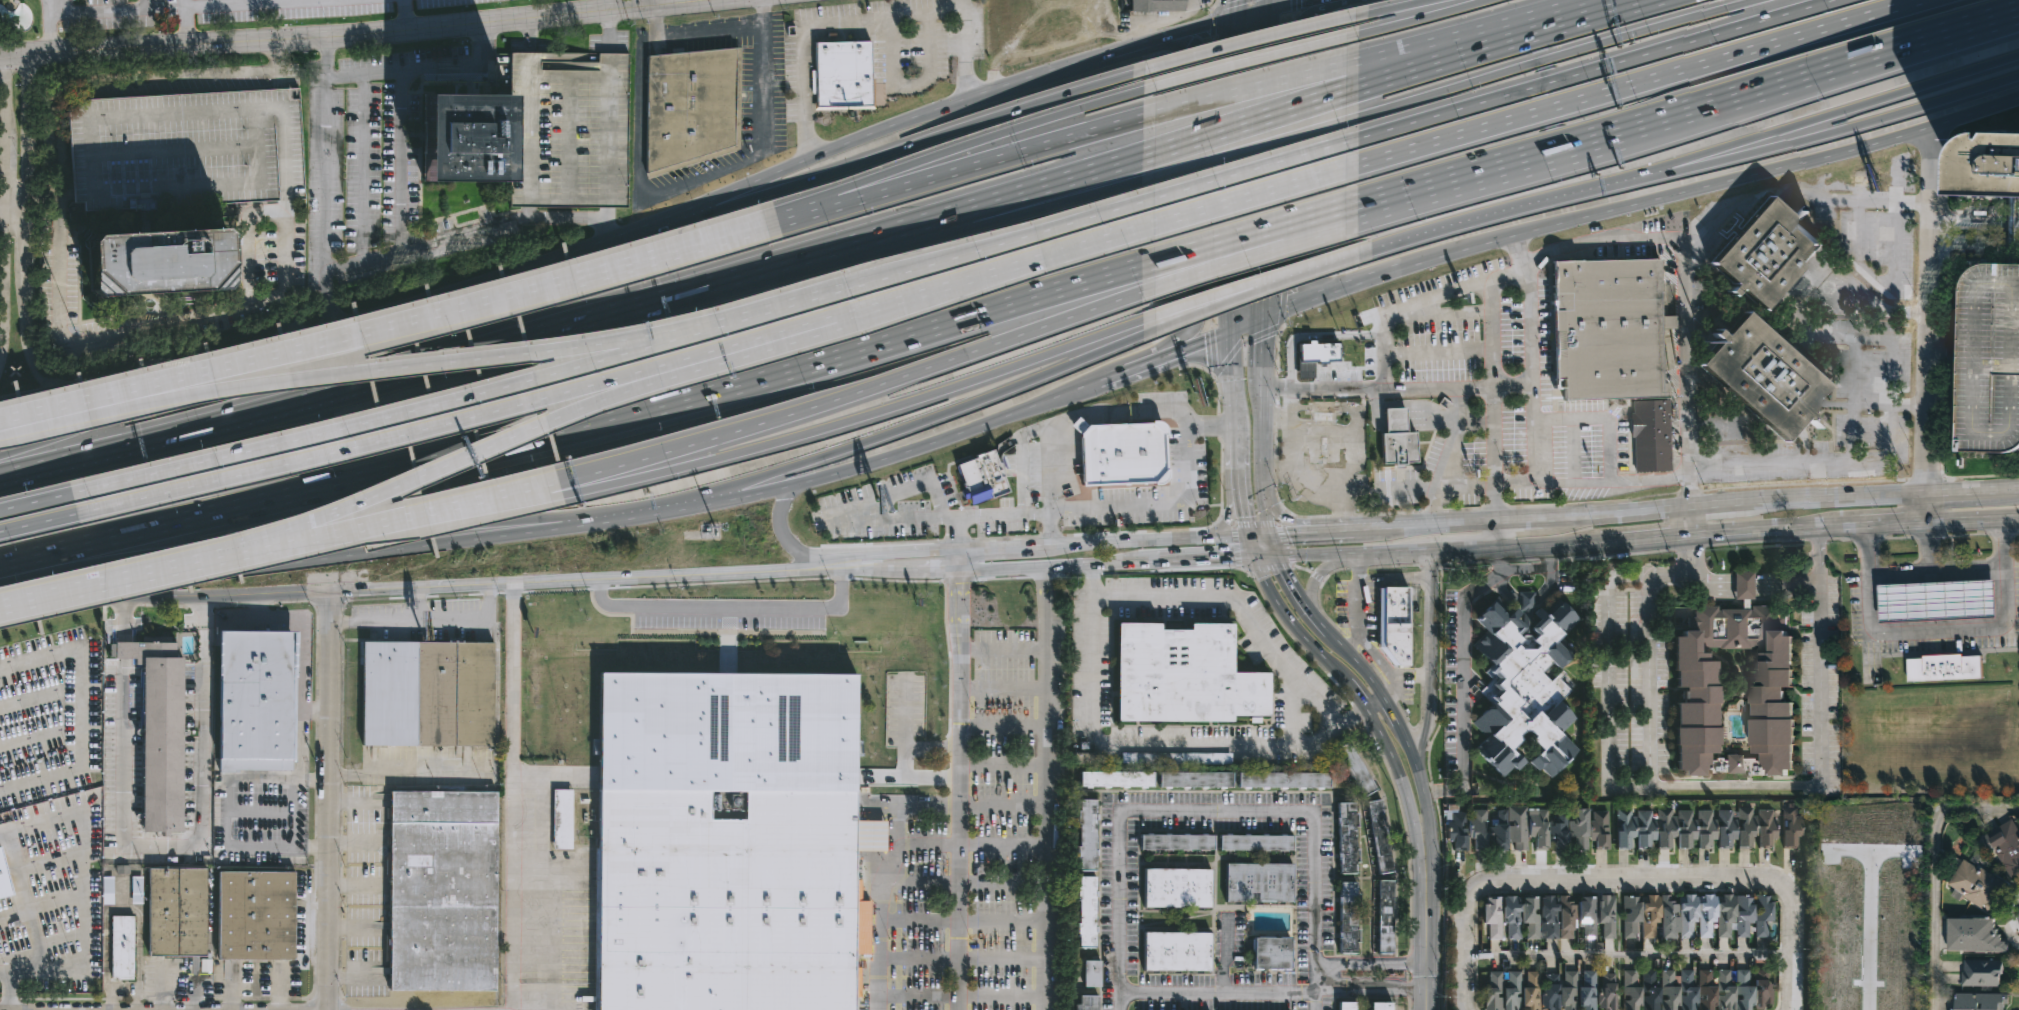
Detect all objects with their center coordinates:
traffic signals: (1302, 0)
road: (1269, 3)
road: (1286, 3)
road: (232, 4)
road: (962, 4)
road: (641, 5)
building: (1157, 5)
road: (608, 6)
road: (1393, 6)
road: (102, 10)
road: (406, 16)
road: (1416, 19)
road: (863, 20)
road: (49, 24)
road: (182, 27)
road: (1549, 30)
road: (385, 33)
road: (709, 33)
road: (1258, 39)
traffic signals: (1270, 41)
road: (1551, 58)
road: (1080, 62)
road: (1250, 62)
road: (1400, 62)
road: (276, 64)
road: (1588, 71)
road: (1820, 72)
road: (364, 74)
building: (841, 74)
road: (1400, 76)
road: (1631, 84)
road: (910, 86)
road: (1250, 89)
building: (691, 107)
road: (1844, 109)
road: (1034, 121)
road: (1246, 124)
building: (566, 127)
parking garage: (566, 127)
road: (1846, 127)
building: (463, 136)
road: (1297, 140)
road: (910, 144)
building: (186, 150)
parking garage: (186, 150)
road: (1244, 150)
road: (997, 159)
road: (1232, 165)
road: (781, 168)
road: (1252, 170)
road: (1489, 172)
building: (1991, 172)
road: (878, 183)
road: (678, 184)
road: (1700, 186)
road: (1796, 186)
road: (3, 190)
road: (1251, 197)
road: (1058, 203)
road: (1, 204)
road: (41, 204)
road: (60, 204)
road: (13, 205)
road: (1189, 205)
road: (1520, 206)
road: (810, 211)
road: (265, 213)
road: (511, 221)
road: (1975, 223)
road: (23, 224)
road: (904, 227)
road: (1255, 236)
road: (1013, 241)
road: (1975, 241)
road: (1570, 245)
road: (1264, 248)
road: (1255, 249)
road: (391, 250)
road: (679, 250)
road: (1524, 250)
building: (1762, 253)
building: (158, 263)
road: (1312, 267)
road: (821, 268)
road: (1006, 270)
road: (1804, 280)
road: (460, 291)
road: (1321, 295)
road: (827, 297)
road: (328, 299)
road: (1204, 300)
traffic signals: (1230, 302)
road: (1204, 307)
road: (1930, 308)
road: (1246, 325)
building: (1609, 328)
traffic signals: (1229, 332)
traffic signals: (1205, 341)
traffic signals: (1262, 342)
road: (289, 354)
building: (1989, 360)
parking lot: (1989, 360)
road: (391, 370)
road: (1532, 374)
road: (147, 375)
building: (1763, 377)
road: (1368, 387)
road: (334, 394)
road: (1889, 396)
road: (1853, 397)
road: (837, 399)
road: (25, 400)
road: (1494, 401)
road: (1890, 403)
road: (430, 407)
road: (124, 409)
road: (1232, 410)
building: (1322, 410)
road: (1013, 414)
road: (936, 415)
road: (565, 417)
road: (468, 419)
road: (1209, 422)
road: (841, 423)
road: (1275, 423)
road: (580, 428)
building: (1651, 435)
building: (1397, 440)
building: (1120, 455)
road: (1789, 462)
road: (1049, 469)
building: (980, 478)
road: (1321, 484)
road: (1518, 484)
road: (2007, 486)
road: (1961, 489)
road: (755, 491)
road: (1832, 495)
road: (37, 502)
road: (1715, 505)
road: (1927, 506)
road: (1172, 507)
road: (1435, 507)
road: (656, 511)
road: (1241, 512)
road: (1265, 512)
road: (1621, 512)
traffic signals: (1243, 518)
road: (1524, 519)
road: (399, 520)
road: (1973, 520)
road: (1226, 521)
road: (1693, 522)
road: (39, 523)
road: (1295, 523)
road: (1255, 524)
road: (1437, 524)
road: (1888, 524)
road: (1050, 529)
road: (1360, 530)
road: (1772, 532)
road: (1305, 533)
road: (1498, 533)
road: (955, 534)
traffic signals: (1289, 534)
traffic signals: (1269, 535)
road: (1258, 536)
road: (1221, 537)
traffic signals: (1247, 537)
road: (786, 540)
road: (1650, 540)
road: (1552, 543)
road: (1075, 544)
road: (1285, 544)
road: (1271, 546)
road: (298, 547)
road: (1249, 547)
road: (1474, 547)
road: (1928, 547)
road: (1236, 549)
road: (1402, 550)
road: (897, 554)
road: (1313, 554)
road: (336, 557)
traffic signals: (1253, 557)
road: (1263, 557)
traffic signals: (1274, 557)
traffic signals: (1230, 558)
road: (1204, 559)
road: (1500, 559)
road: (955, 562)
road: (840, 564)
road: (1269, 567)
road: (1055, 568)
road: (1310, 571)
road: (1934, 571)
road: (879, 572)
road: (936, 572)
road: (140, 573)
road: (585, 578)
road: (1761, 582)
road: (1314, 585)
building: (1744, 586)
road: (204, 595)
road: (1298, 598)
building: (1934, 598)
gas station: (1934, 598)
road: (416, 604)
road: (1238, 606)
road: (39, 609)
road: (720, 610)
road: (425, 620)
road: (123, 621)
building: (1394, 624)
road: (1294, 627)
road: (1461, 630)
road: (1937, 632)
road: (124, 651)
road: (1433, 656)
road: (1360, 663)
building: (1943, 666)
building: (1182, 675)
parking lot: (1629, 681)
parking lot: (1820, 685)
road: (1607, 688)
building: (1698, 688)
building: (1525, 689)
building: (426, 694)
road: (1360, 697)
building: (256, 699)
road: (1377, 703)
road: (1393, 709)
road: (79, 710)
road: (316, 712)
building: (10, 730)
building: (723, 730)
building: (159, 734)
road: (1149, 744)
building: (1178, 758)
building: (1355, 767)
road: (407, 774)
road: (1400, 776)
building: (1282, 779)
building: (1115, 780)
building: (1194, 780)
road: (1423, 781)
road: (1711, 786)
road: (1047, 789)
road: (954, 790)
road: (511, 795)
road: (330, 800)
road: (1217, 810)
road: (291, 817)
building: (563, 819)
building: (1791, 826)
building: (1517, 827)
building: (1746, 827)
building: (1538, 828)
building: (1579, 828)
building: (1623, 828)
building: (1666, 828)
building: (1478, 829)
building: (1686, 829)
building: (1726, 829)
building: (1766, 829)
building: (1599, 830)
building: (1645, 830)
building: (1705, 830)
building: (1498, 831)
building: (1457, 832)
building: (1559, 832)
building: (1086, 835)
building: (1378, 836)
building: (1346, 838)
building: (1175, 843)
building: (1255, 843)
road: (191, 845)
building: (2002, 845)
road: (310, 848)
road: (1934, 864)
building: (4, 877)
road: (1619, 878)
building: (1258, 883)
building: (1976, 885)
road: (81, 886)
building: (1176, 889)
building: (107, 891)
building: (135, 891)
building: (439, 892)
building: (728, 898)
road: (886, 899)
building: (1085, 912)
building: (175, 913)
building: (1744, 915)
building: (1630, 916)
building: (1650, 916)
building: (1688, 916)
building: (1706, 916)
building: (1762, 916)
building: (252, 917)
building: (1531, 917)
building: (1549, 917)
building: (1587, 917)
building: (1605, 917)
building: (1726, 917)
building: (1347, 918)
building: (1384, 918)
building: (1494, 918)
building: (1512, 918)
building: (1566, 918)
building: (1669, 918)
road: (1427, 927)
building: (41, 929)
road: (1792, 934)
building: (1975, 936)
road: (1467, 944)
building: (121, 947)
building: (1176, 953)
building: (1264, 954)
road: (1629, 954)
road: (1224, 955)
building: (1838, 956)
road: (1371, 964)
building: (1981, 972)
building: (1091, 974)
building: (1901, 980)
road: (1371, 985)
road: (8, 989)
building: (1627, 990)
building: (1665, 990)
building: (1703, 990)
building: (1722, 990)
building: (1741, 990)
building: (1758, 990)
building: (1494, 991)
building: (1647, 991)
building: (1684, 991)
building: (1512, 992)
building: (1531, 992)
building: (1568, 992)
building: (1587, 992)
building: (1606, 992)
road: (1216, 993)
building: (1550, 994)
building: (1978, 1001)
building: (1086, 1004)
building: (1346, 1006)
building: (1380, 1007)

